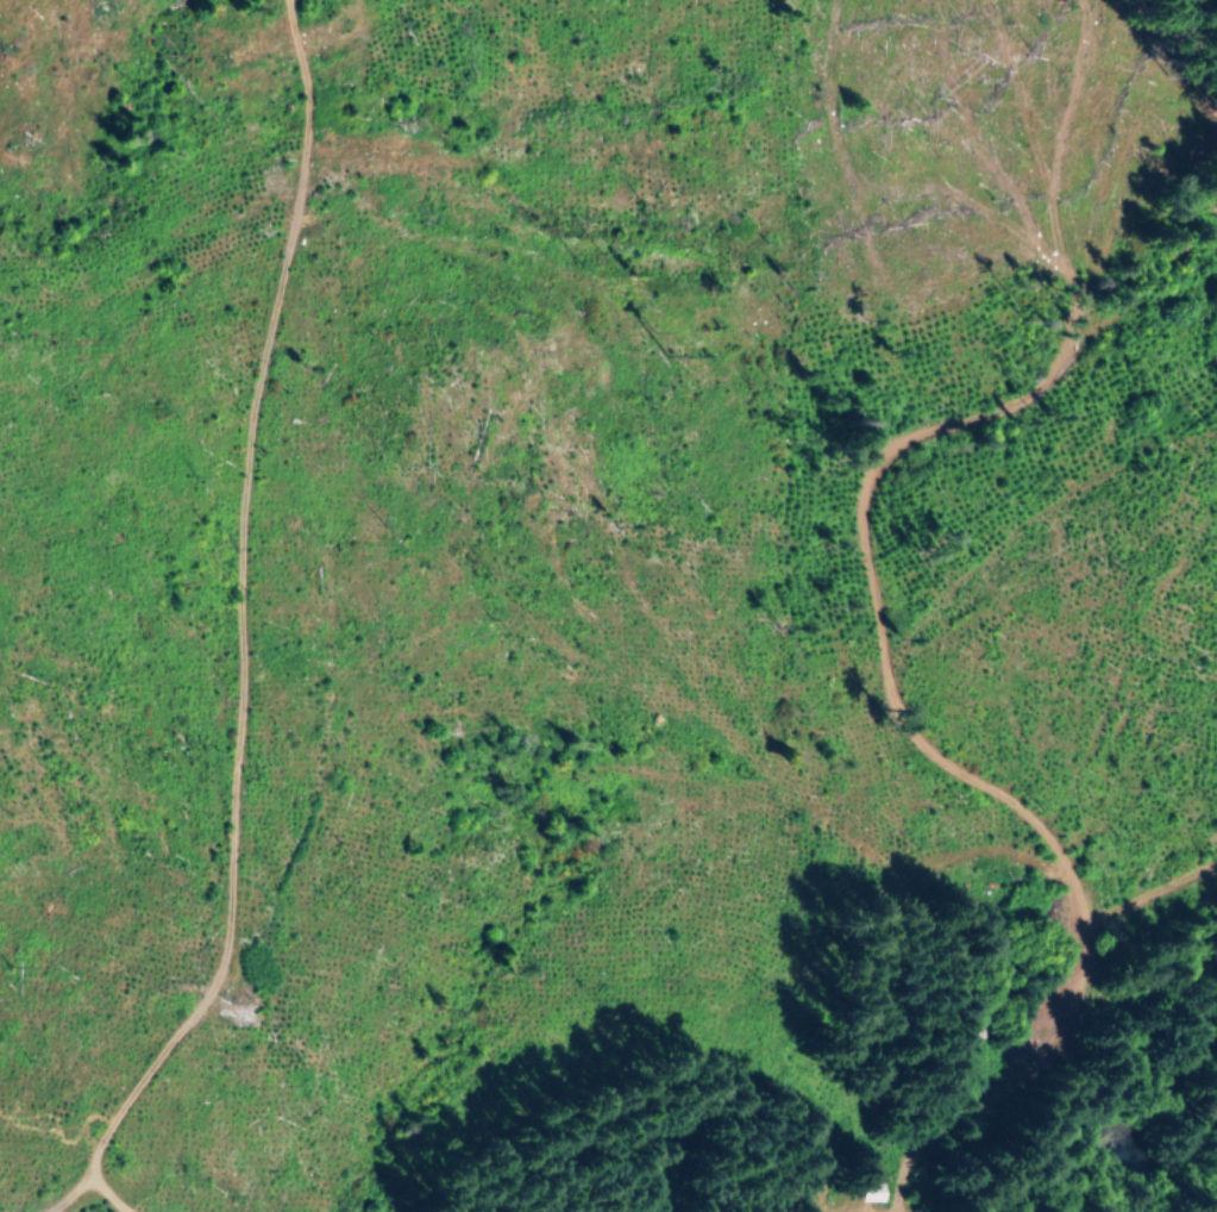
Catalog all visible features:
road: (1043, 518)
road: (878, 604)
road: (286, 645)
road: (1028, 1070)

